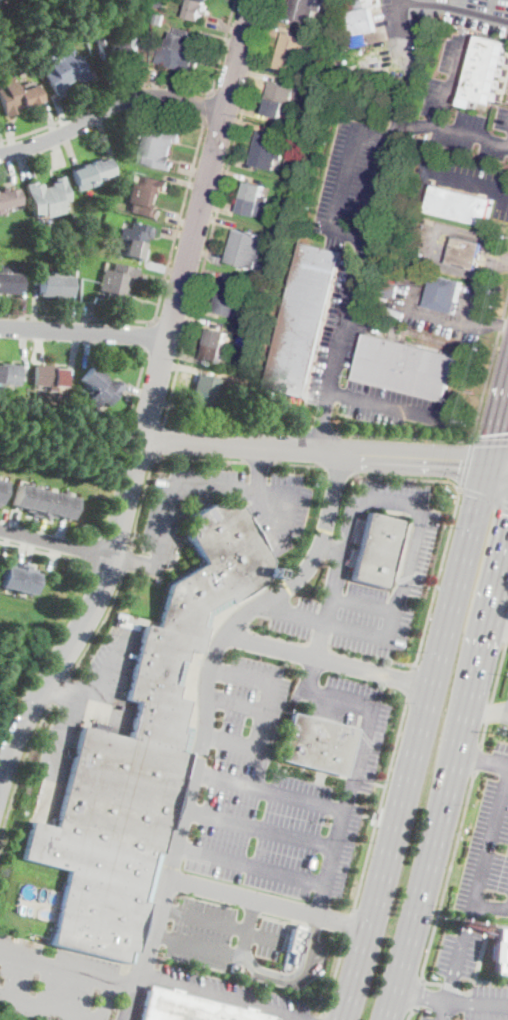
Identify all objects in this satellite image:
building: (203, 0)
building: (0, 1)
building: (309, 2)
building: (161, 4)
building: (196, 9)
road: (457, 9)
building: (302, 11)
building: (365, 17)
building: (159, 19)
building: (88, 21)
road: (225, 25)
road: (269, 25)
parking lot: (419, 36)
building: (182, 39)
road: (223, 40)
building: (127, 44)
building: (295, 44)
building: (319, 48)
building: (108, 49)
building: (177, 58)
building: (288, 59)
road: (259, 64)
building: (72, 65)
parking lot: (451, 71)
building: (487, 72)
road: (258, 73)
building: (57, 76)
building: (180, 76)
road: (154, 80)
road: (454, 80)
road: (147, 83)
road: (145, 84)
road: (113, 88)
building: (280, 90)
building: (28, 93)
road: (100, 94)
building: (10, 97)
road: (208, 103)
building: (278, 105)
road: (110, 106)
building: (323, 109)
road: (138, 110)
road: (247, 111)
road: (61, 113)
road: (399, 113)
road: (50, 117)
road: (245, 122)
road: (451, 127)
parking lot: (476, 132)
road: (10, 136)
road: (104, 136)
building: (160, 137)
building: (268, 142)
road: (1, 147)
road: (69, 149)
road: (58, 154)
building: (155, 157)
building: (264, 158)
road: (232, 162)
road: (21, 163)
building: (288, 163)
road: (11, 167)
building: (100, 170)
road: (193, 172)
road: (229, 173)
building: (83, 177)
parking lot: (462, 179)
road: (465, 179)
road: (186, 182)
parking lot: (357, 185)
building: (149, 186)
road: (506, 190)
building: (254, 191)
building: (122, 192)
building: (58, 193)
building: (8, 198)
building: (40, 199)
building: (143, 205)
building: (461, 205)
road: (217, 206)
building: (252, 207)
building: (0, 211)
road: (216, 211)
road: (217, 219)
road: (182, 220)
road: (369, 229)
building: (137, 231)
road: (179, 233)
building: (248, 240)
parking lot: (432, 241)
building: (132, 247)
road: (431, 247)
road: (205, 253)
building: (466, 253)
building: (244, 256)
building: (77, 257)
road: (165, 267)
road: (204, 269)
building: (275, 271)
building: (119, 274)
road: (160, 279)
building: (2, 280)
building: (11, 282)
building: (48, 285)
building: (62, 285)
building: (232, 288)
road: (161, 290)
building: (114, 292)
building: (445, 293)
building: (228, 304)
parking lot: (475, 306)
road: (35, 308)
building: (386, 308)
road: (23, 309)
road: (200, 309)
road: (75, 311)
road: (443, 317)
road: (86, 318)
road: (347, 318)
road: (197, 319)
building: (305, 321)
parking lot: (346, 321)
road: (489, 322)
road: (83, 332)
road: (148, 334)
building: (218, 338)
road: (39, 345)
road: (89, 349)
building: (214, 352)
road: (25, 353)
road: (73, 355)
road: (184, 355)
building: (248, 356)
road: (183, 365)
road: (489, 366)
building: (405, 368)
building: (1, 373)
building: (10, 374)
building: (44, 375)
building: (59, 377)
building: (92, 379)
road: (139, 379)
building: (207, 384)
road: (140, 390)
building: (105, 392)
building: (205, 401)
road: (150, 405)
road: (390, 405)
road: (497, 422)
road: (321, 427)
road: (283, 429)
road: (321, 432)
traffic signals: (495, 432)
road: (404, 436)
road: (158, 439)
road: (490, 441)
road: (314, 449)
road: (154, 457)
traffic signals: (460, 459)
road: (260, 461)
road: (467, 462)
road: (299, 464)
road: (497, 465)
road: (338, 468)
road: (257, 469)
road: (407, 478)
road: (190, 485)
building: (2, 486)
road: (483, 495)
building: (23, 496)
building: (38, 500)
building: (52, 504)
building: (66, 505)
road: (5, 519)
parking lot: (279, 519)
road: (16, 521)
road: (34, 526)
road: (43, 529)
road: (62, 532)
road: (56, 542)
road: (7, 543)
parking lot: (419, 544)
road: (25, 546)
road: (33, 549)
building: (377, 549)
road: (330, 550)
road: (45, 551)
road: (56, 555)
road: (505, 556)
road: (129, 558)
road: (341, 560)
road: (133, 561)
road: (104, 570)
building: (14, 574)
building: (30, 578)
road: (397, 598)
road: (363, 603)
road: (271, 604)
road: (426, 620)
road: (99, 626)
road: (498, 629)
road: (507, 635)
parking lot: (114, 655)
road: (113, 656)
road: (315, 656)
road: (324, 659)
road: (498, 670)
road: (409, 680)
road: (61, 687)
road: (63, 690)
road: (237, 703)
road: (265, 711)
road: (488, 711)
road: (488, 711)
road: (206, 715)
road: (483, 733)
road: (410, 741)
road: (62, 742)
building: (317, 744)
building: (140, 756)
road: (476, 756)
road: (476, 758)
road: (501, 763)
road: (21, 774)
road: (352, 778)
road: (452, 781)
parking lot: (284, 789)
road: (270, 790)
road: (378, 803)
road: (260, 828)
parking lot: (489, 845)
road: (484, 851)
road: (251, 865)
road: (447, 875)
road: (265, 901)
road: (203, 919)
road: (249, 922)
road: (347, 922)
parking lot: (202, 933)
road: (264, 936)
parking lot: (270, 938)
building: (294, 942)
road: (197, 944)
road: (309, 945)
building: (499, 951)
parking lot: (312, 958)
road: (58, 968)
road: (262, 972)
parking lot: (456, 972)
road: (332, 974)
road: (452, 975)
road: (479, 980)
parking lot: (54, 981)
road: (430, 982)
road: (125, 986)
road: (451, 987)
parking lot: (234, 993)
road: (417, 994)
road: (426, 995)
road: (224, 996)
road: (103, 1001)
road: (482, 1004)
road: (45, 1007)
building: (190, 1008)
road: (410, 1014)
road: (290, 1017)
road: (320, 1017)

